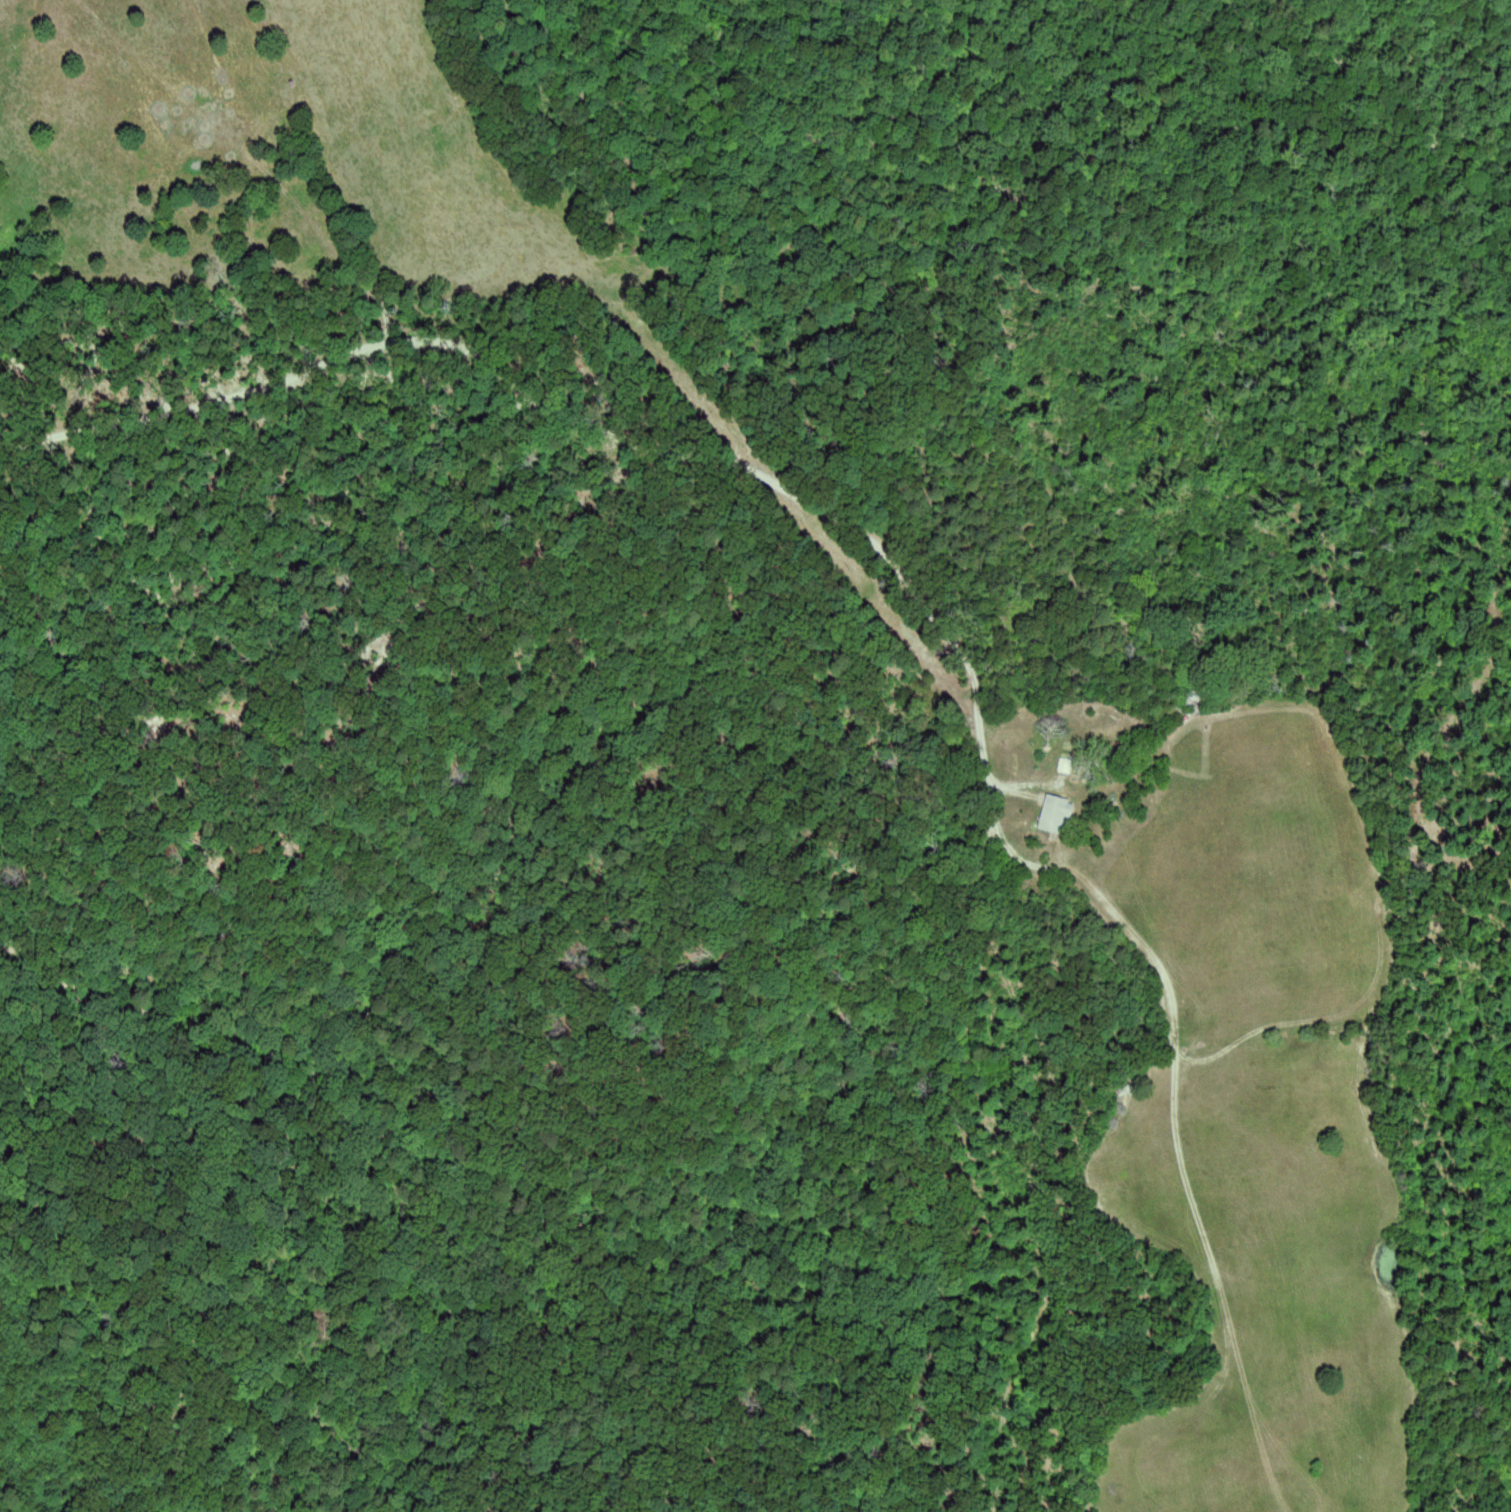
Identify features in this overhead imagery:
road: (567, 404)
building: (1056, 813)

